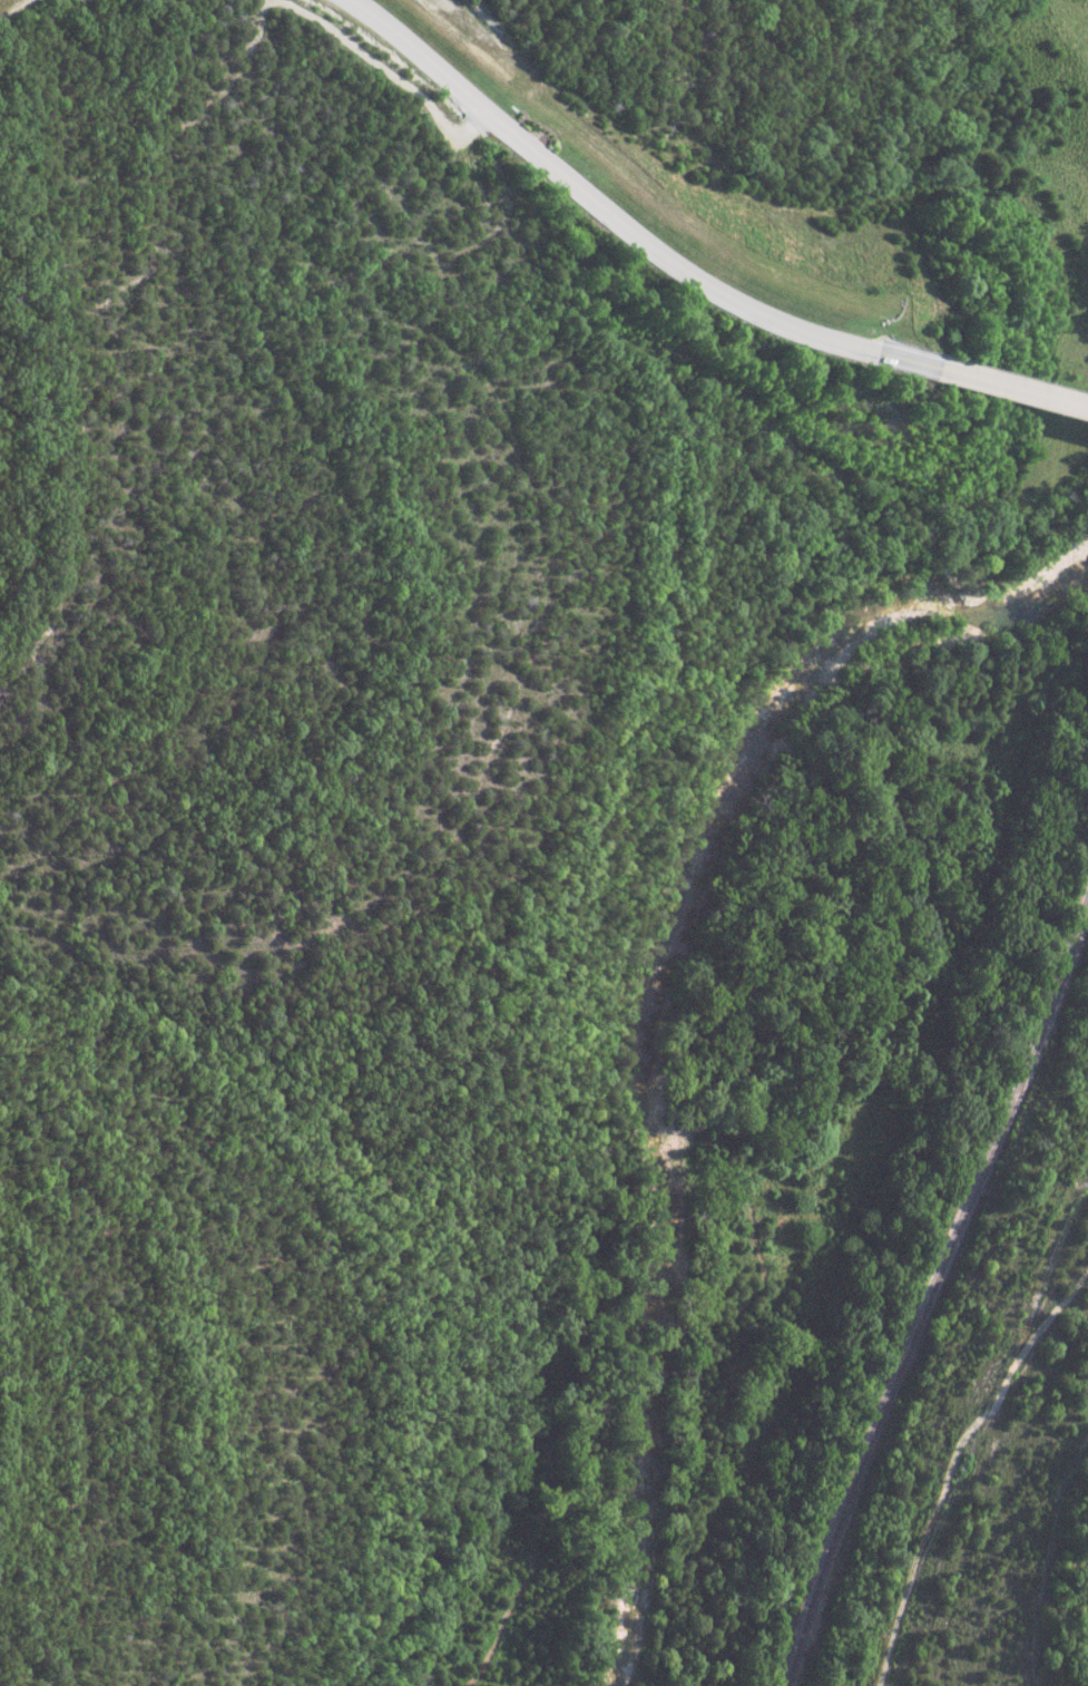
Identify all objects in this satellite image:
road: (669, 255)
road: (1064, 401)
railway: (934, 1292)

